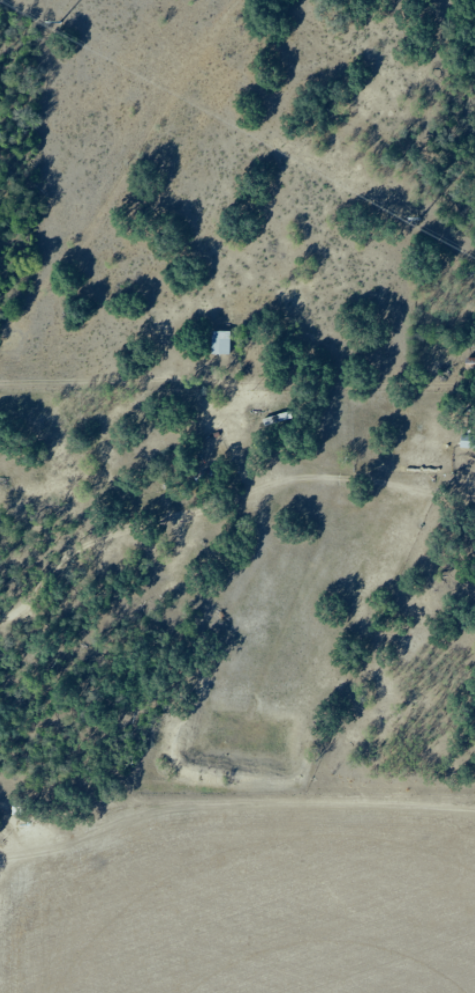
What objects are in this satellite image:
power tower: (61, 23)
power tower: (420, 220)
building: (221, 344)
road: (100, 382)

